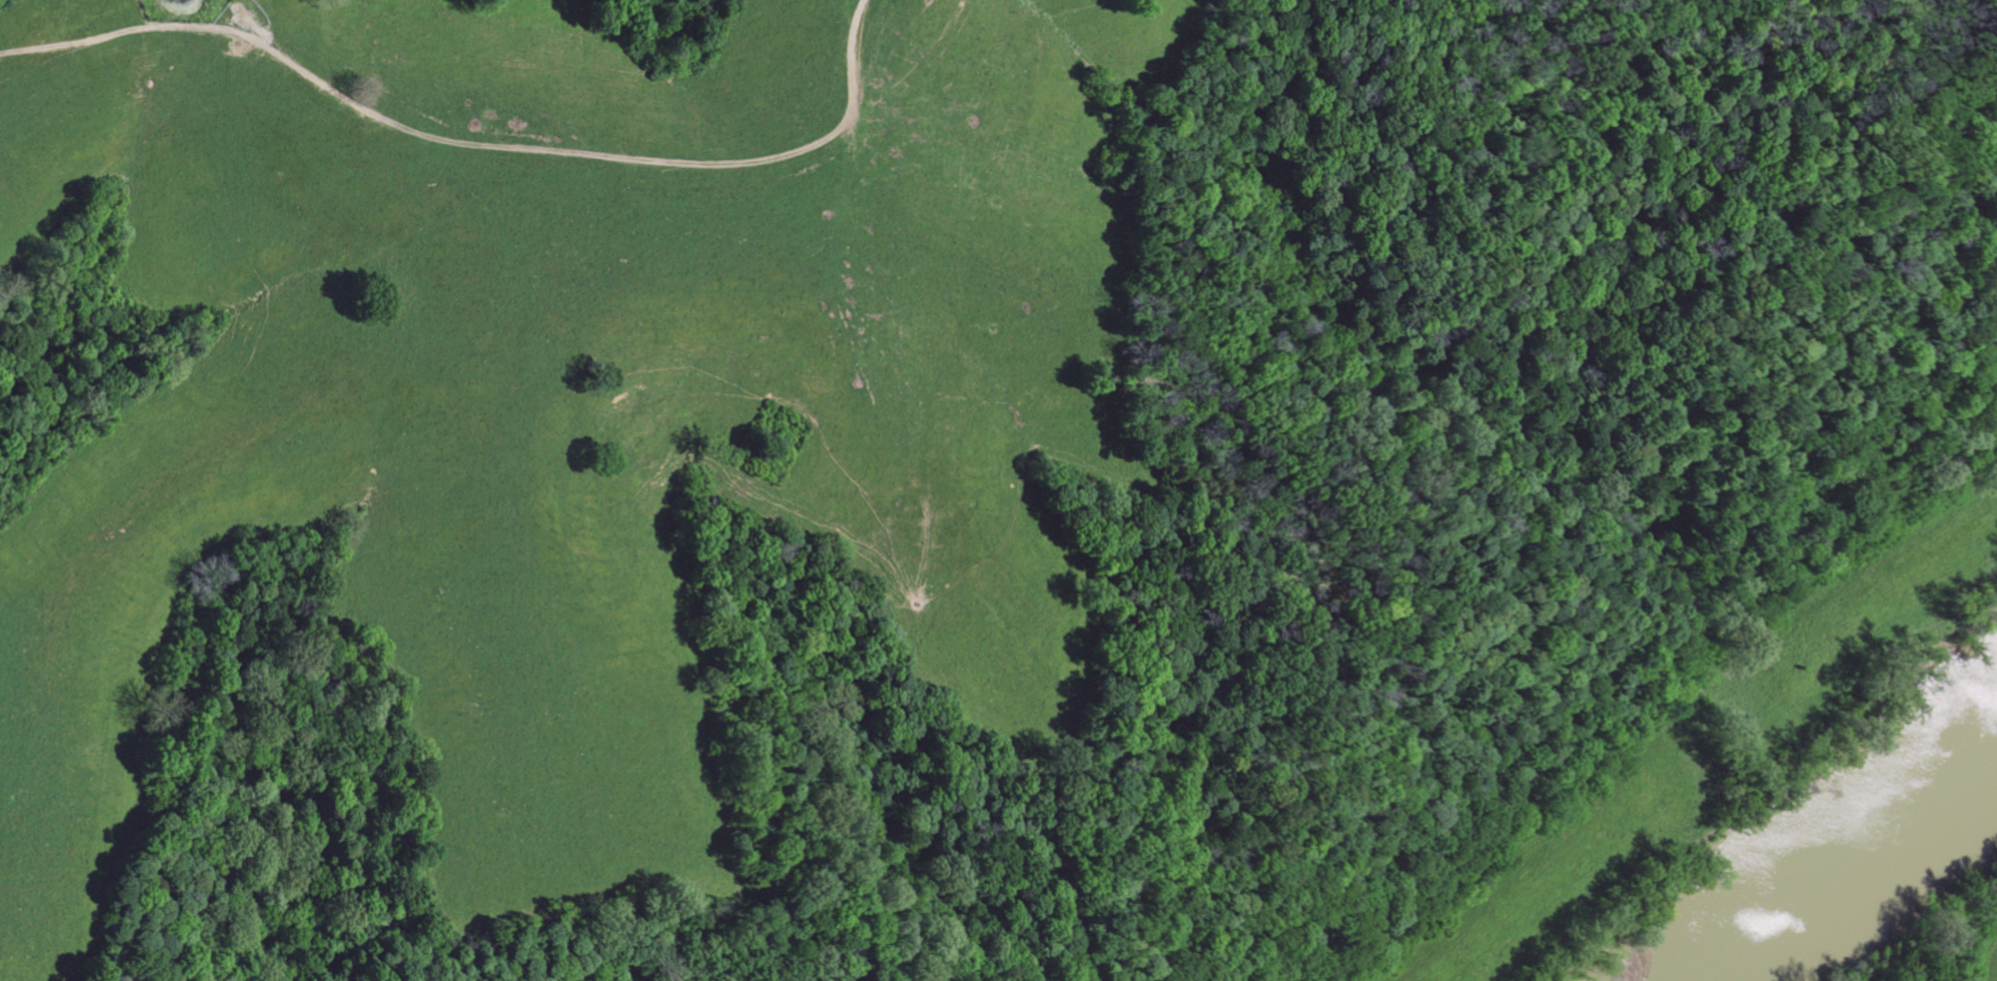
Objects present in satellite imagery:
road: (482, 182)
river: (1839, 852)

